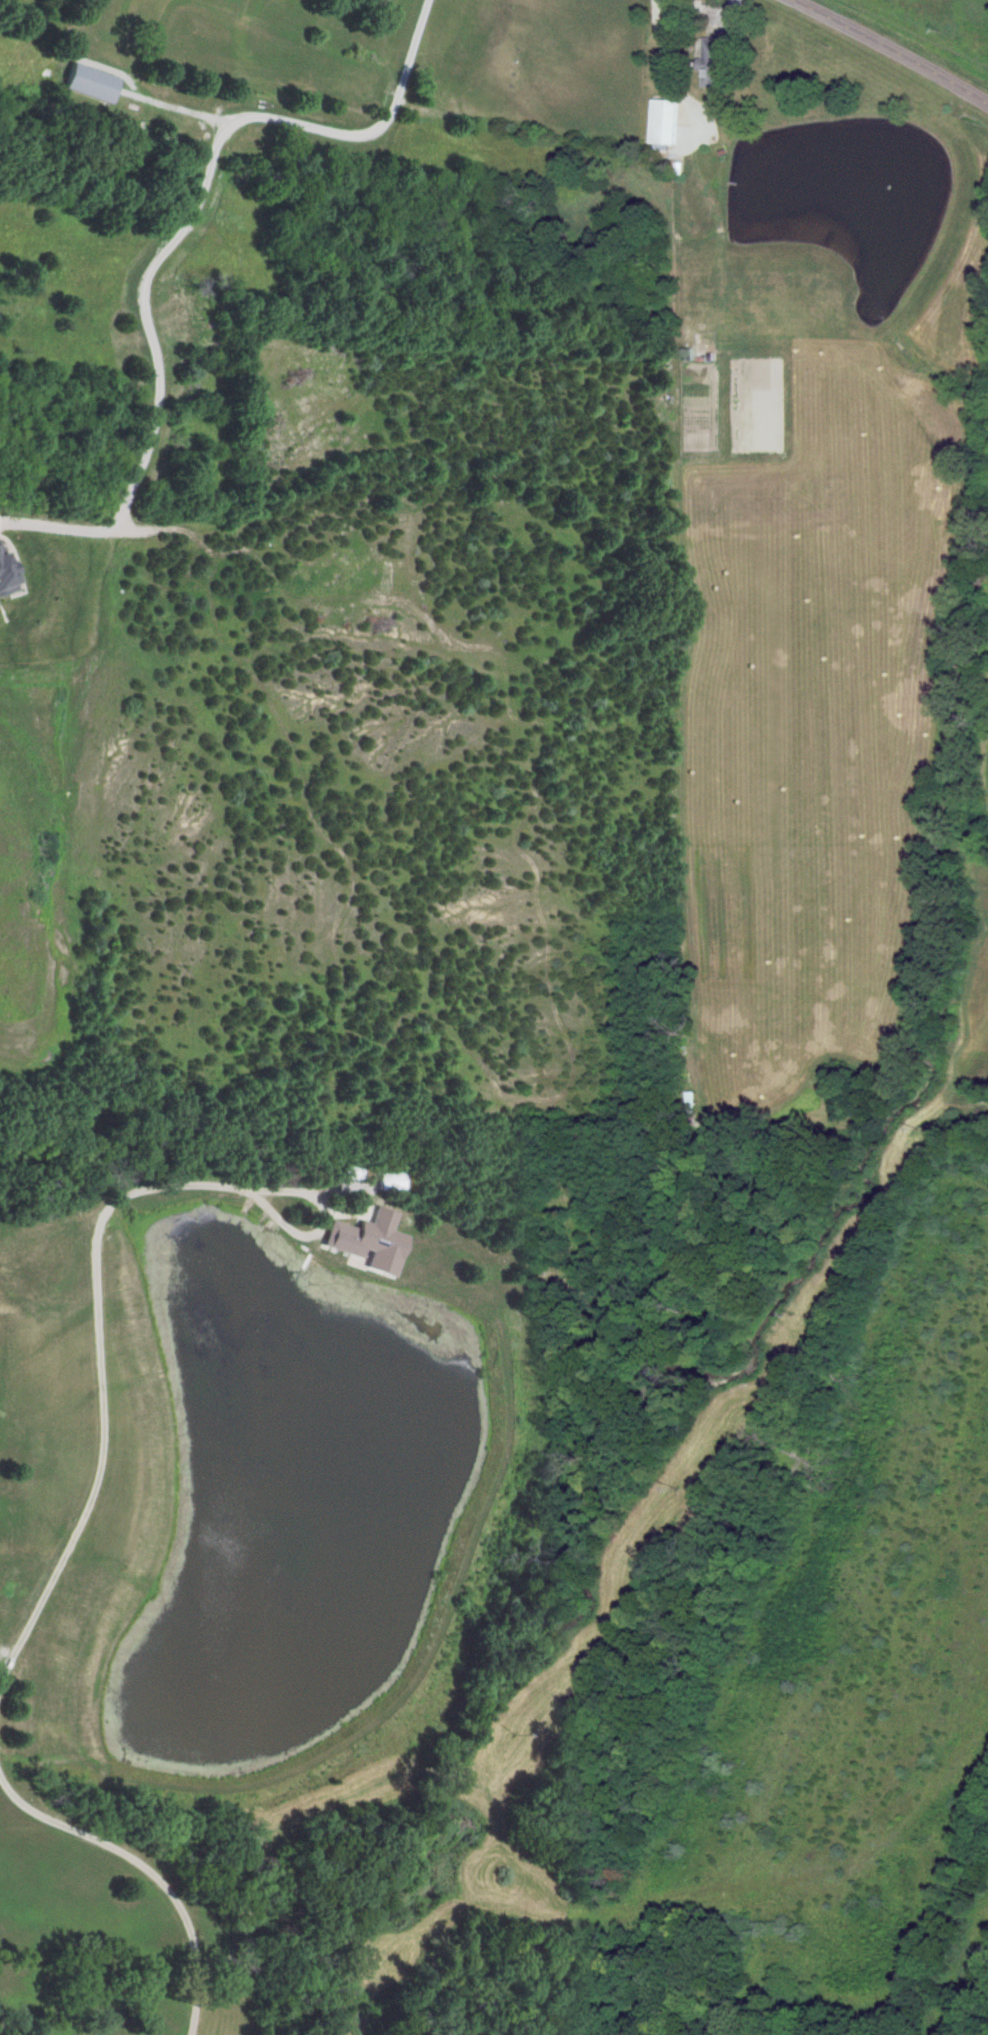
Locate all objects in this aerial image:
building: (374, 2)
road: (891, 49)
building: (712, 63)
building: (660, 122)
road: (175, 237)
building: (9, 1584)
road: (235, 1949)

